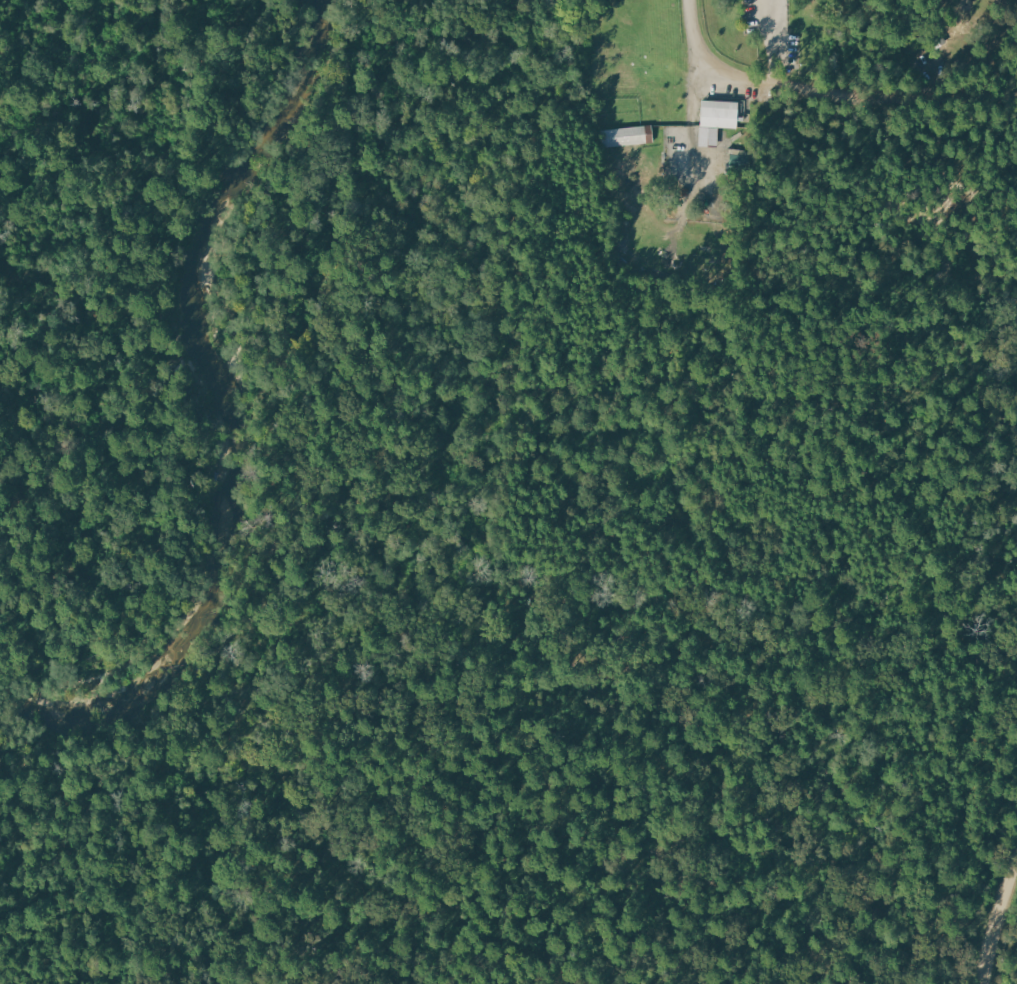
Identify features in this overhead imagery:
road: (773, 45)
road: (699, 50)
road: (877, 104)
building: (717, 115)
building: (628, 136)
road: (203, 173)
river: (235, 385)
road: (999, 920)
road: (121, 955)
road: (479, 965)

